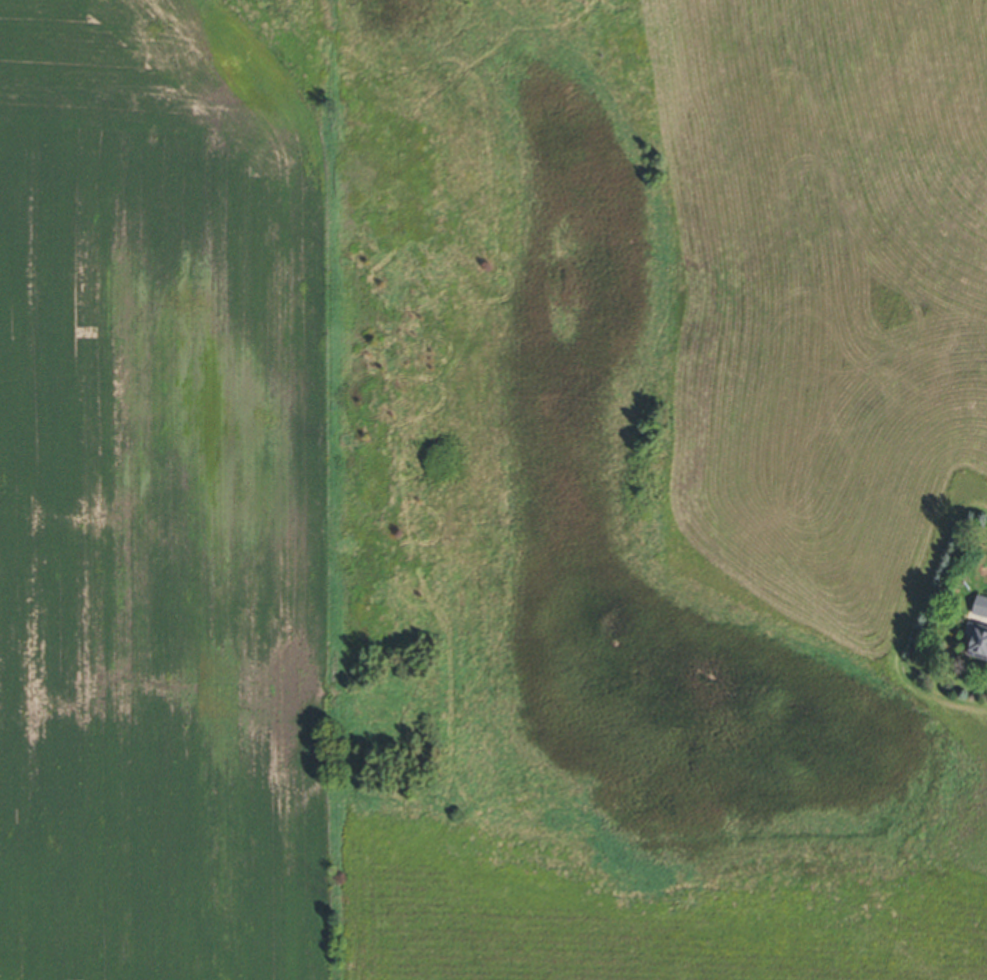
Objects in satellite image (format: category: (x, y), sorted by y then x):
building: (983, 609)
building: (982, 648)

